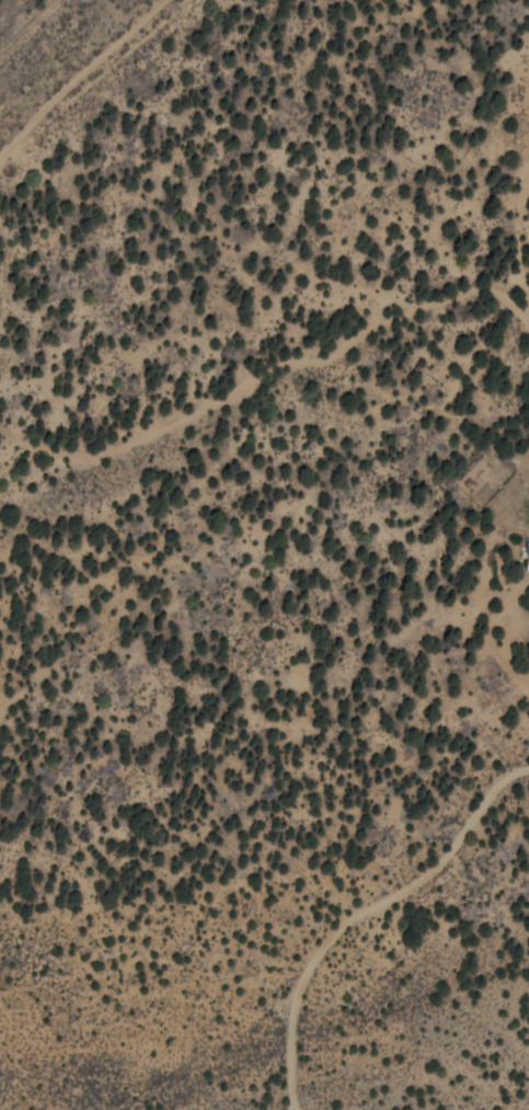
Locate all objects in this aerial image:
road: (51, 43)
building: (527, 553)

